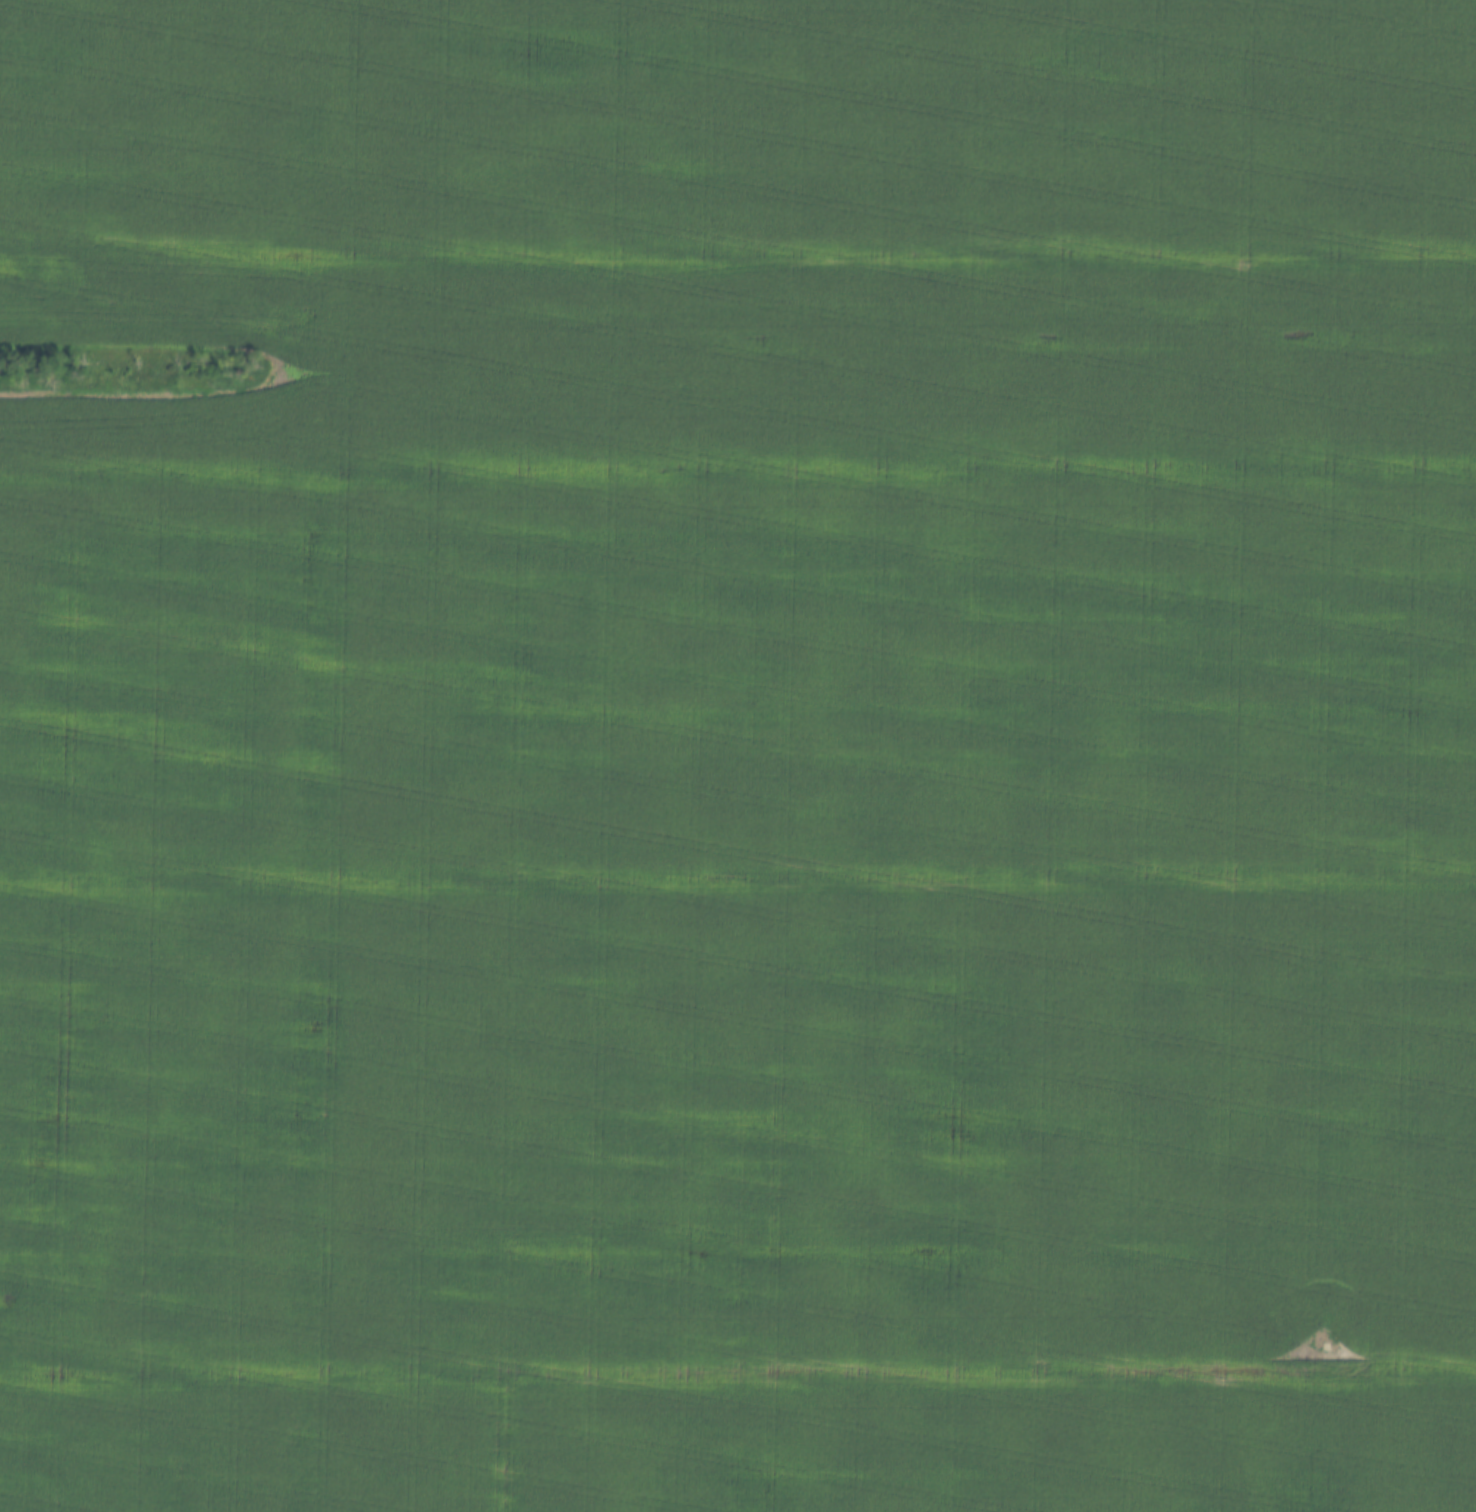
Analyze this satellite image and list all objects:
crop: (740, 757)

